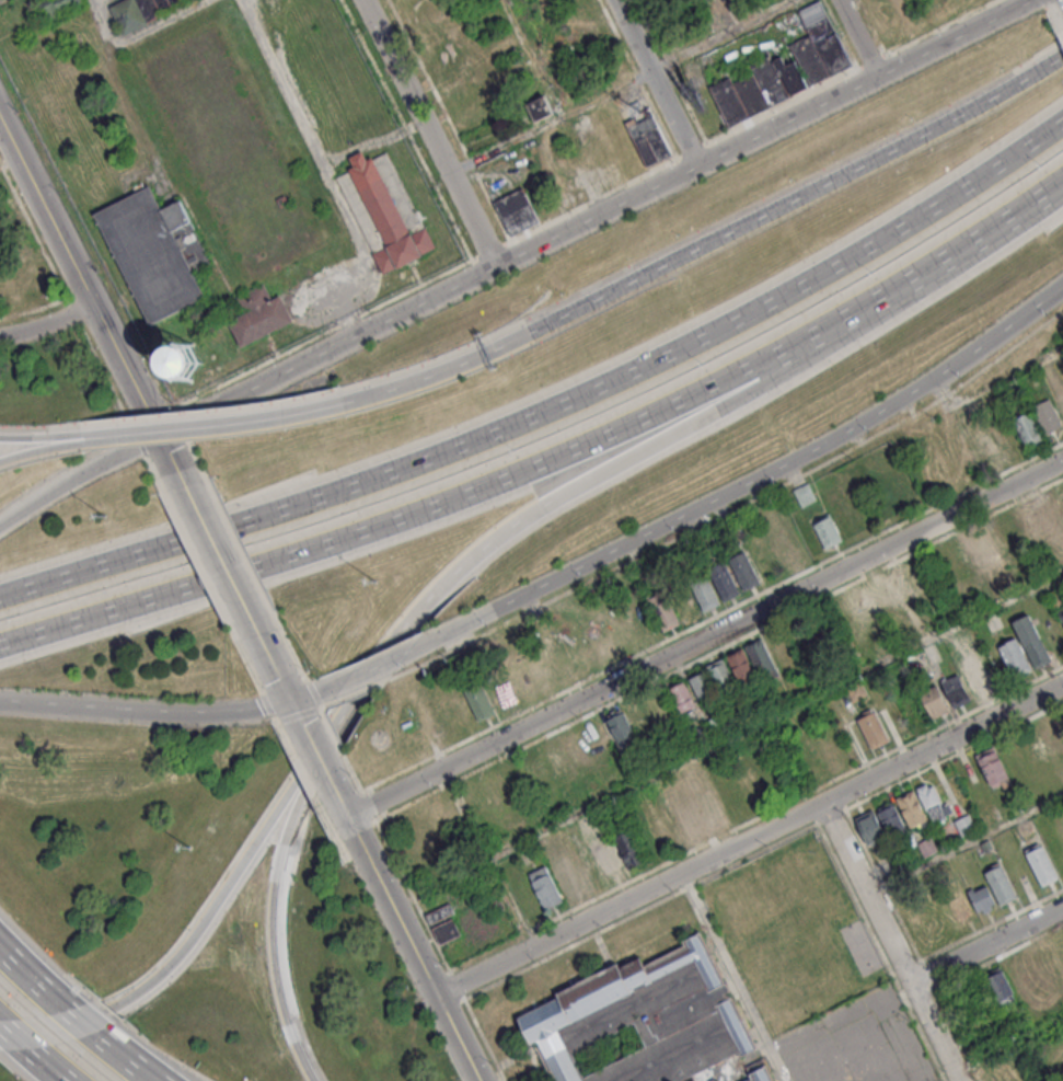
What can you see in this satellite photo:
building: (58, 7)
building: (141, 10)
road: (856, 38)
building: (786, 69)
road: (654, 82)
road: (619, 87)
building: (539, 108)
road: (428, 133)
building: (648, 139)
road: (620, 204)
building: (516, 211)
building: (382, 216)
building: (155, 252)
road: (648, 272)
road: (920, 272)
road: (92, 304)
building: (257, 314)
road: (46, 324)
road: (830, 346)
building: (178, 360)
road: (993, 386)
building: (1060, 404)
road: (553, 407)
building: (1050, 418)
road: (161, 432)
building: (1030, 432)
road: (46, 436)
road: (102, 437)
building: (985, 448)
road: (46, 449)
road: (101, 463)
road: (746, 483)
building: (805, 494)
building: (1045, 516)
street lamp: (109, 518)
road: (393, 520)
building: (1025, 525)
building: (830, 536)
building: (984, 547)
building: (787, 551)
road: (221, 553)
building: (746, 573)
road: (440, 584)
building: (728, 586)
building: (904, 586)
building: (706, 596)
building: (883, 596)
building: (863, 606)
building: (1061, 613)
building: (667, 616)
building: (640, 618)
building: (600, 639)
road: (706, 639)
building: (1031, 641)
building: (1013, 658)
building: (763, 660)
road: (380, 667)
building: (563, 667)
building: (743, 670)
road: (282, 679)
building: (725, 679)
building: (964, 683)
building: (704, 689)
building: (500, 693)
building: (683, 699)
building: (934, 701)
road: (4, 702)
building: (479, 702)
road: (181, 710)
building: (638, 715)
building: (712, 726)
building: (621, 728)
building: (873, 729)
building: (1050, 734)
building: (599, 736)
road: (728, 738)
building: (578, 748)
road: (321, 756)
building: (557, 760)
building: (993, 768)
building: (688, 771)
building: (518, 775)
building: (923, 805)
building: (709, 809)
road: (758, 819)
building: (690, 820)
building: (880, 824)
road: (751, 840)
road: (967, 843)
street lamp: (192, 848)
road: (867, 848)
building: (927, 848)
building: (629, 849)
building: (610, 858)
building: (1041, 863)
building: (586, 870)
building: (566, 876)
building: (1001, 885)
building: (547, 888)
building: (982, 899)
road: (268, 901)
building: (439, 913)
road: (198, 925)
road: (405, 928)
building: (447, 931)
road: (897, 941)
road: (989, 942)
building: (1021, 976)
road: (34, 980)
building: (1000, 987)
building: (642, 1019)
road: (84, 1024)
road: (13, 1039)
road: (1012, 1045)
road: (126, 1059)
road: (45, 1066)
building: (759, 1076)

